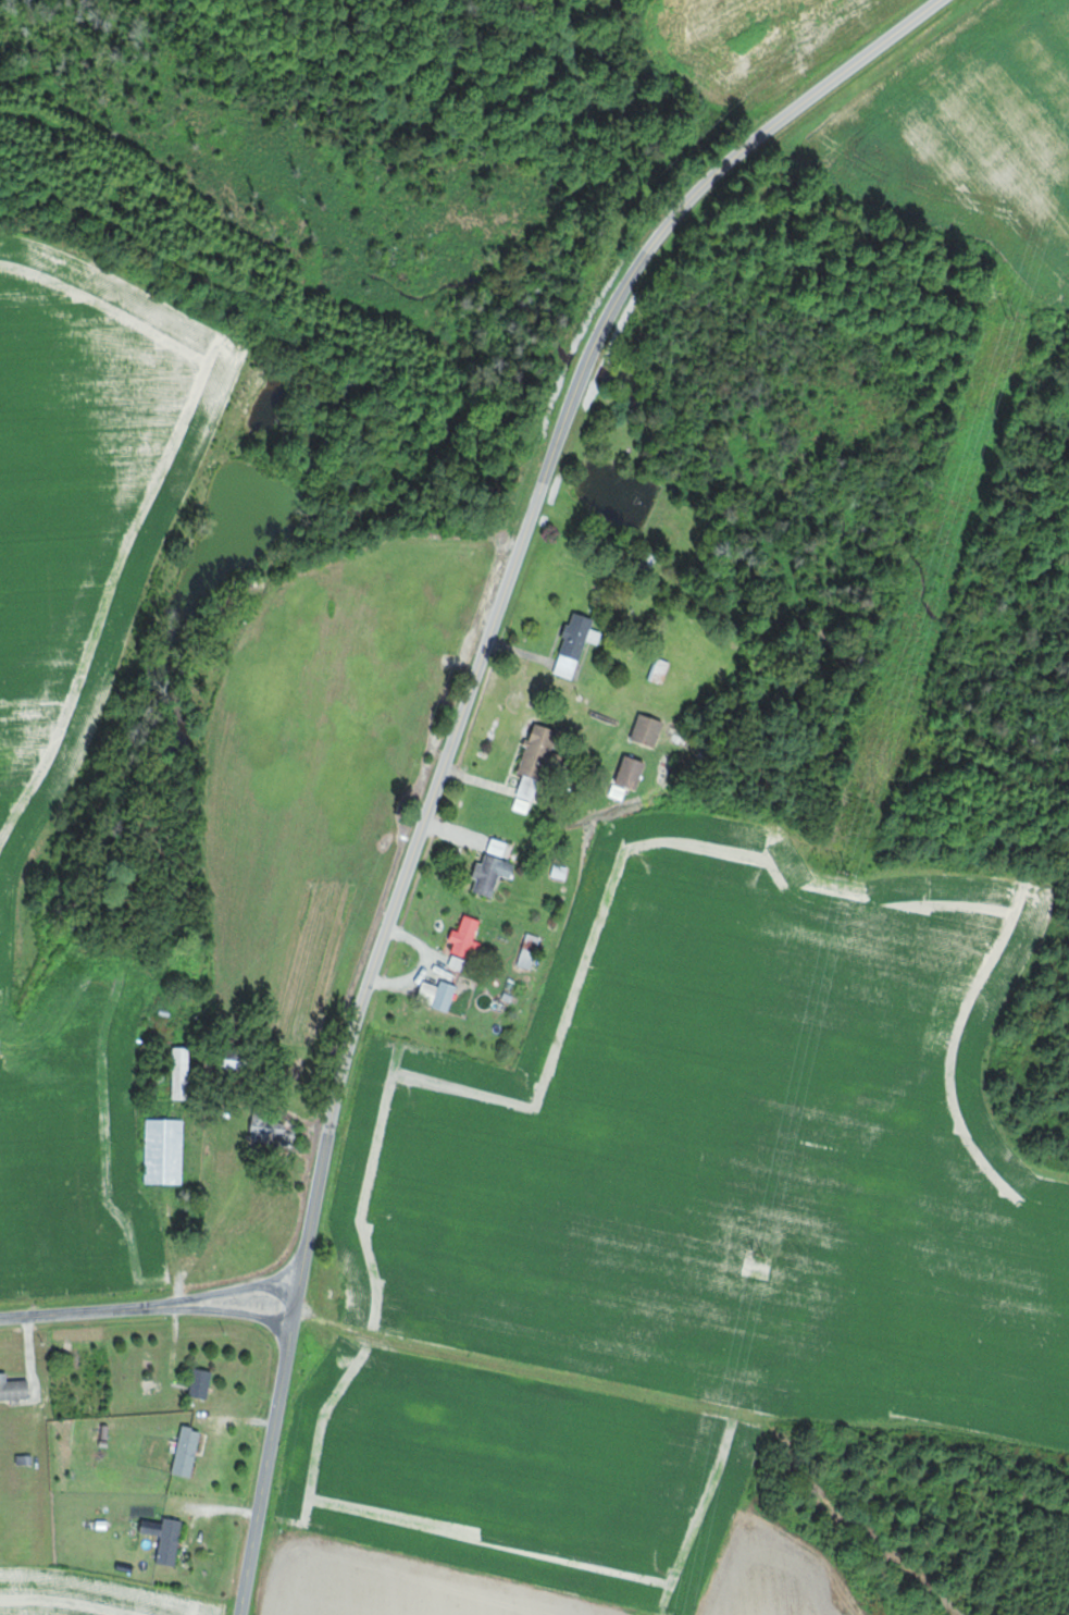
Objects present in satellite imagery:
power tower: (1012, 317)
road: (540, 491)
building: (577, 643)
building: (661, 670)
building: (650, 729)
building: (536, 766)
building: (634, 772)
building: (495, 868)
power tower: (841, 873)
building: (469, 938)
building: (531, 951)
building: (439, 994)
building: (184, 1073)
building: (166, 1150)
road: (314, 1206)
power tower: (758, 1256)
road: (148, 1311)
building: (202, 1383)
building: (14, 1389)
building: (188, 1451)
road: (269, 1456)
building: (167, 1539)

